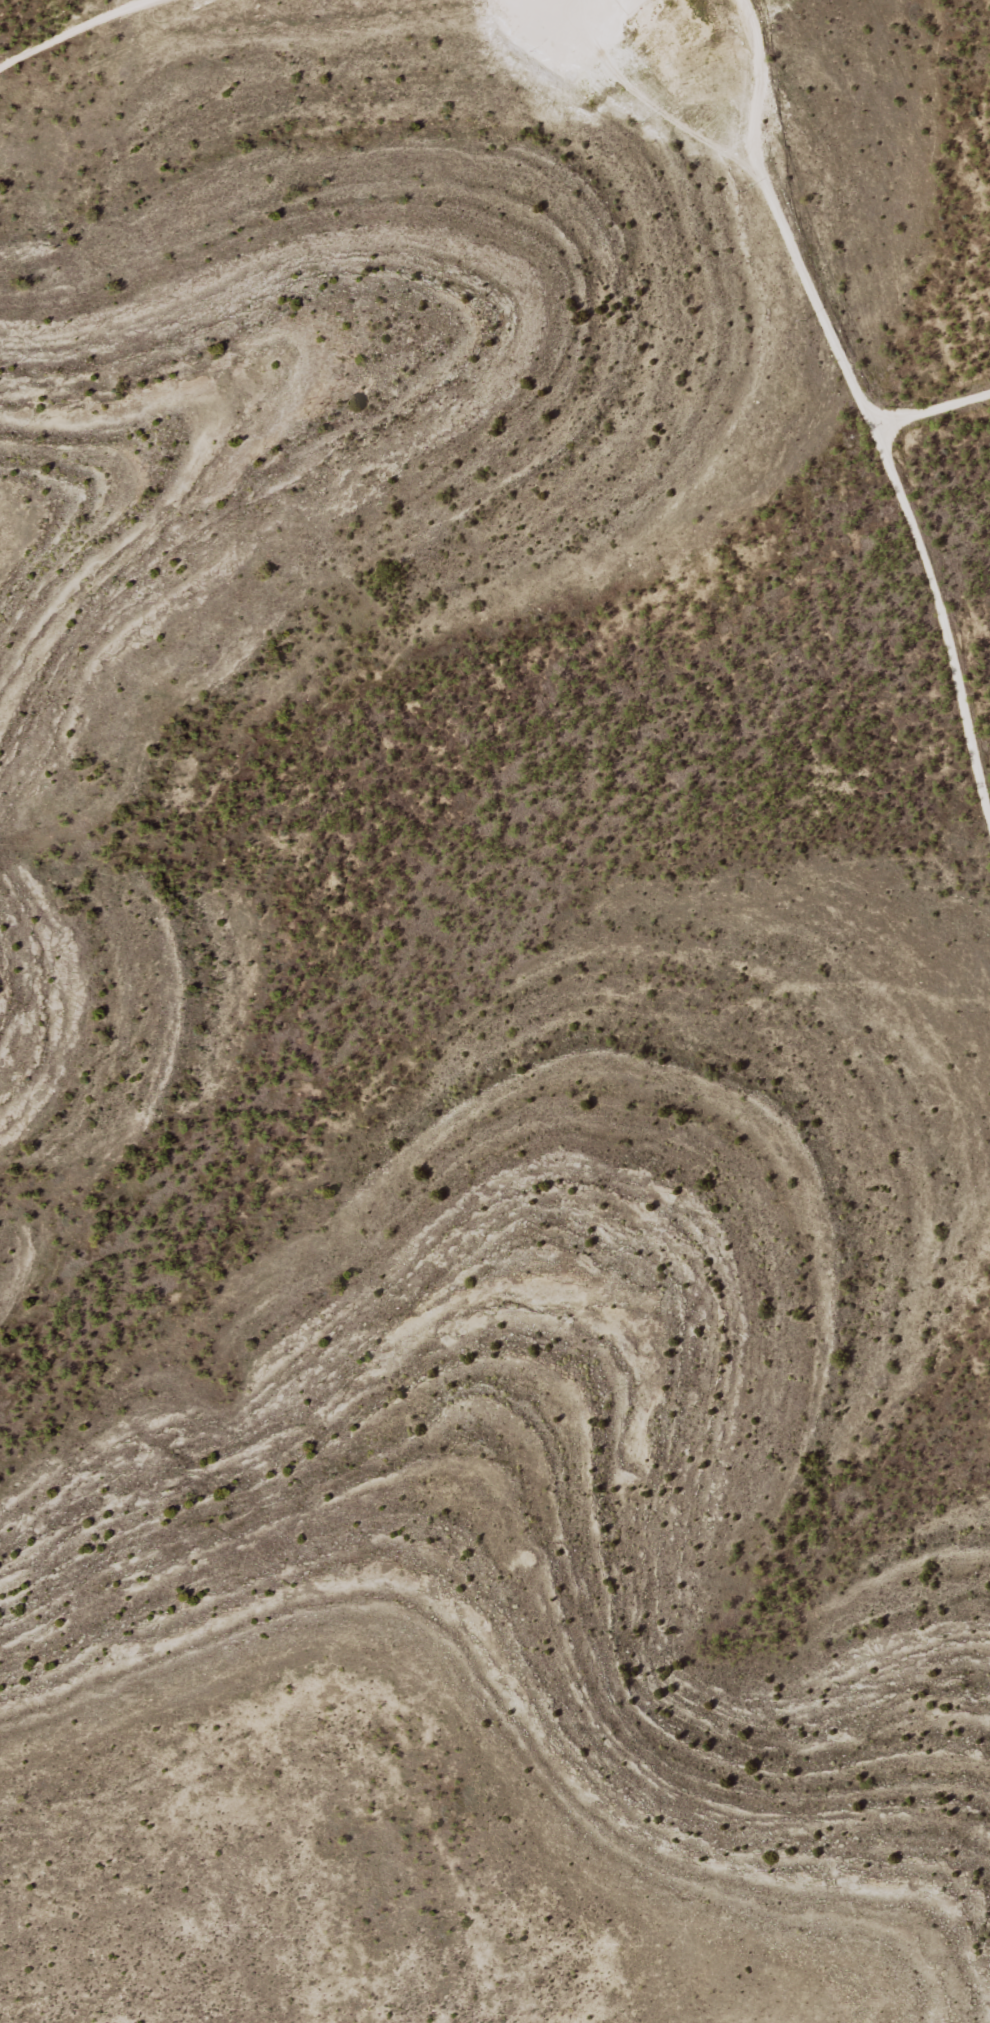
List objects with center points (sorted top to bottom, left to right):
road: (944, 212)

